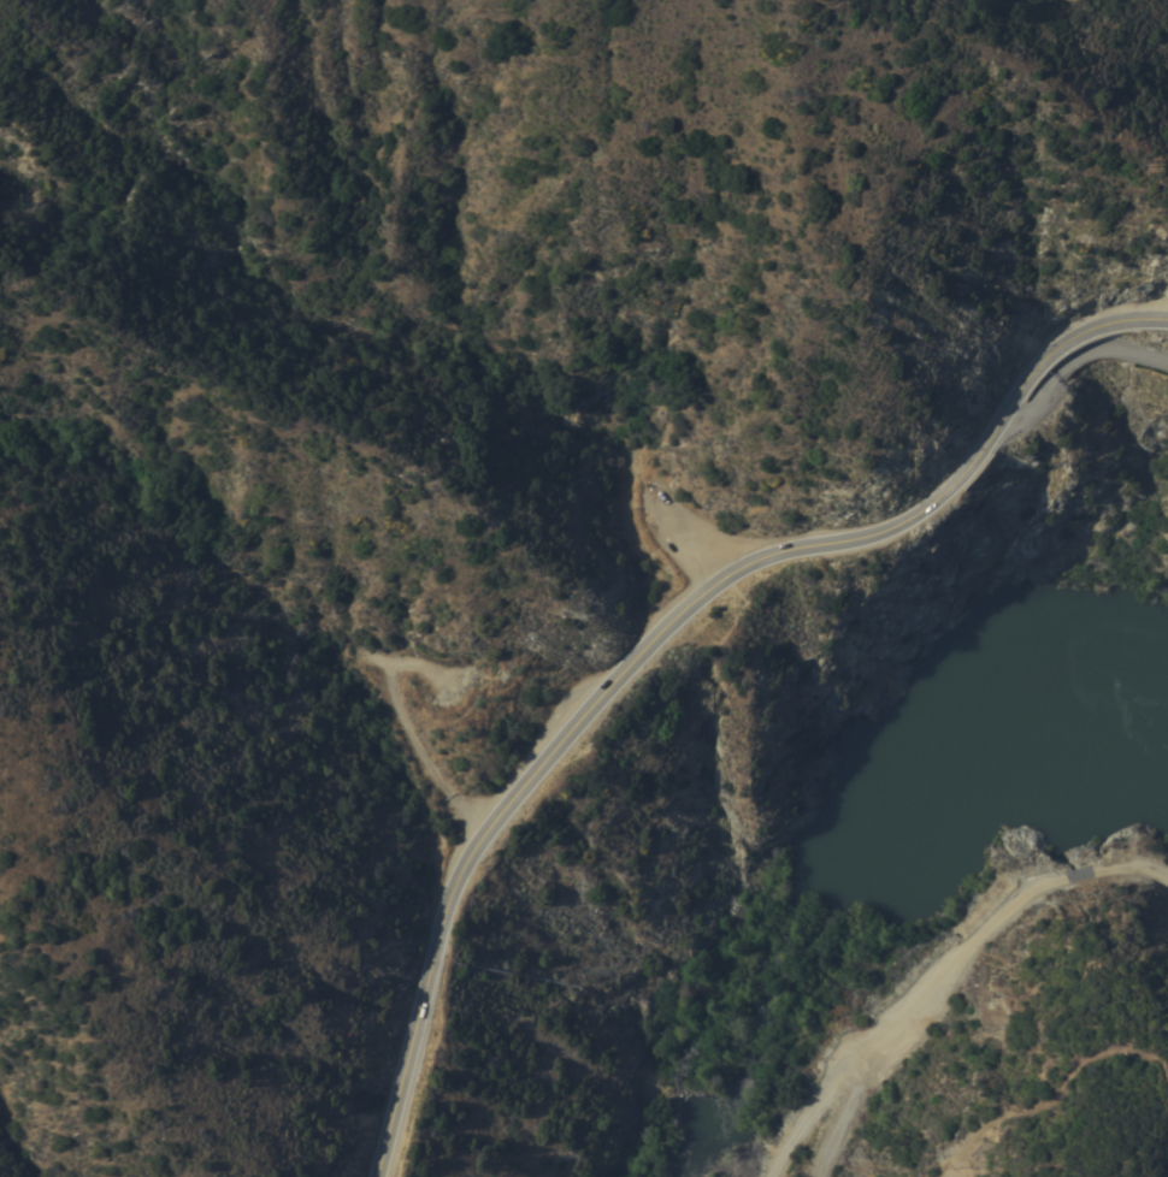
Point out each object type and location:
road: (1066, 2)
road: (826, 8)
road: (1116, 351)
road: (660, 633)
river: (854, 860)
road: (938, 971)
road: (839, 1114)

